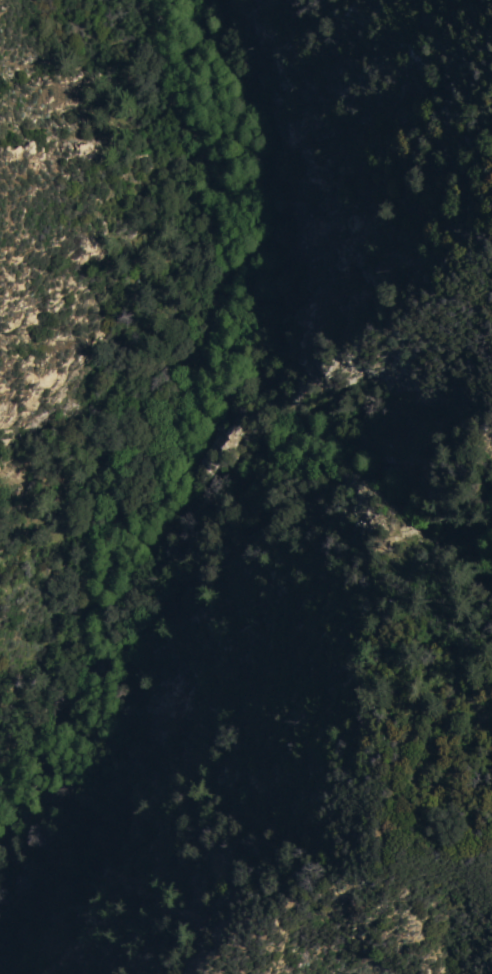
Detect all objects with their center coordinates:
road: (176, 478)

